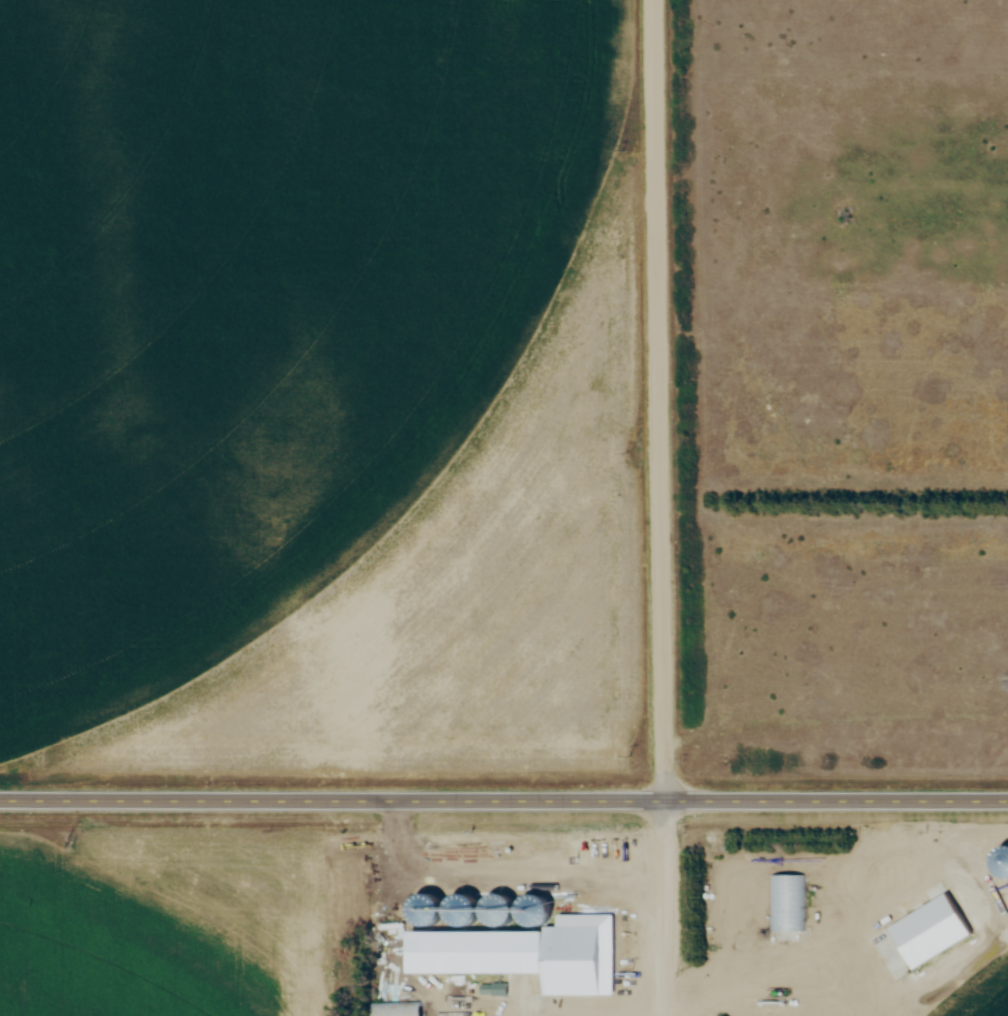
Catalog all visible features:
road: (657, 400)
road: (504, 800)
building: (784, 902)
road: (666, 907)
building: (500, 908)
silo: (500, 908)
building: (537, 909)
silo: (537, 909)
building: (517, 911)
building: (389, 935)
building: (503, 954)

